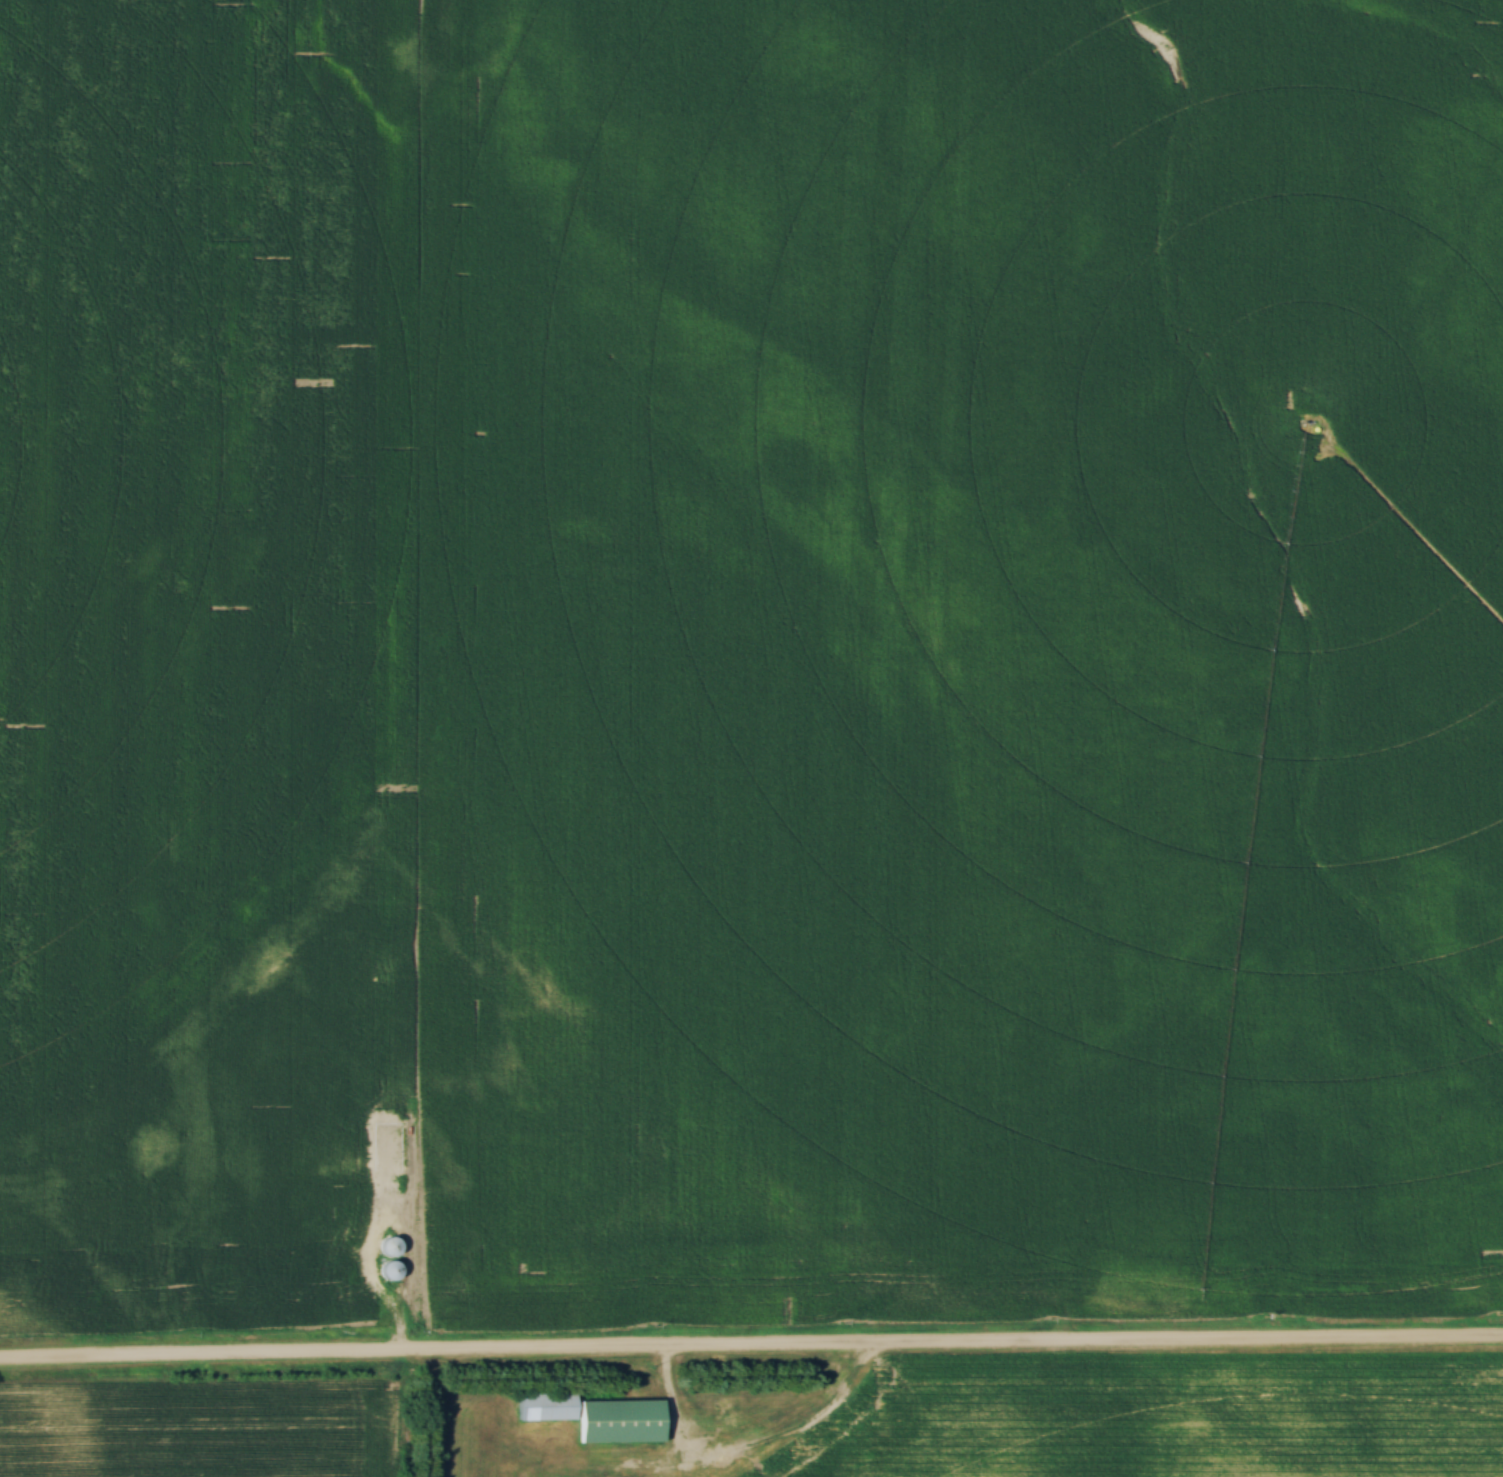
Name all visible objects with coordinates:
road: (751, 1351)
building: (594, 1417)

